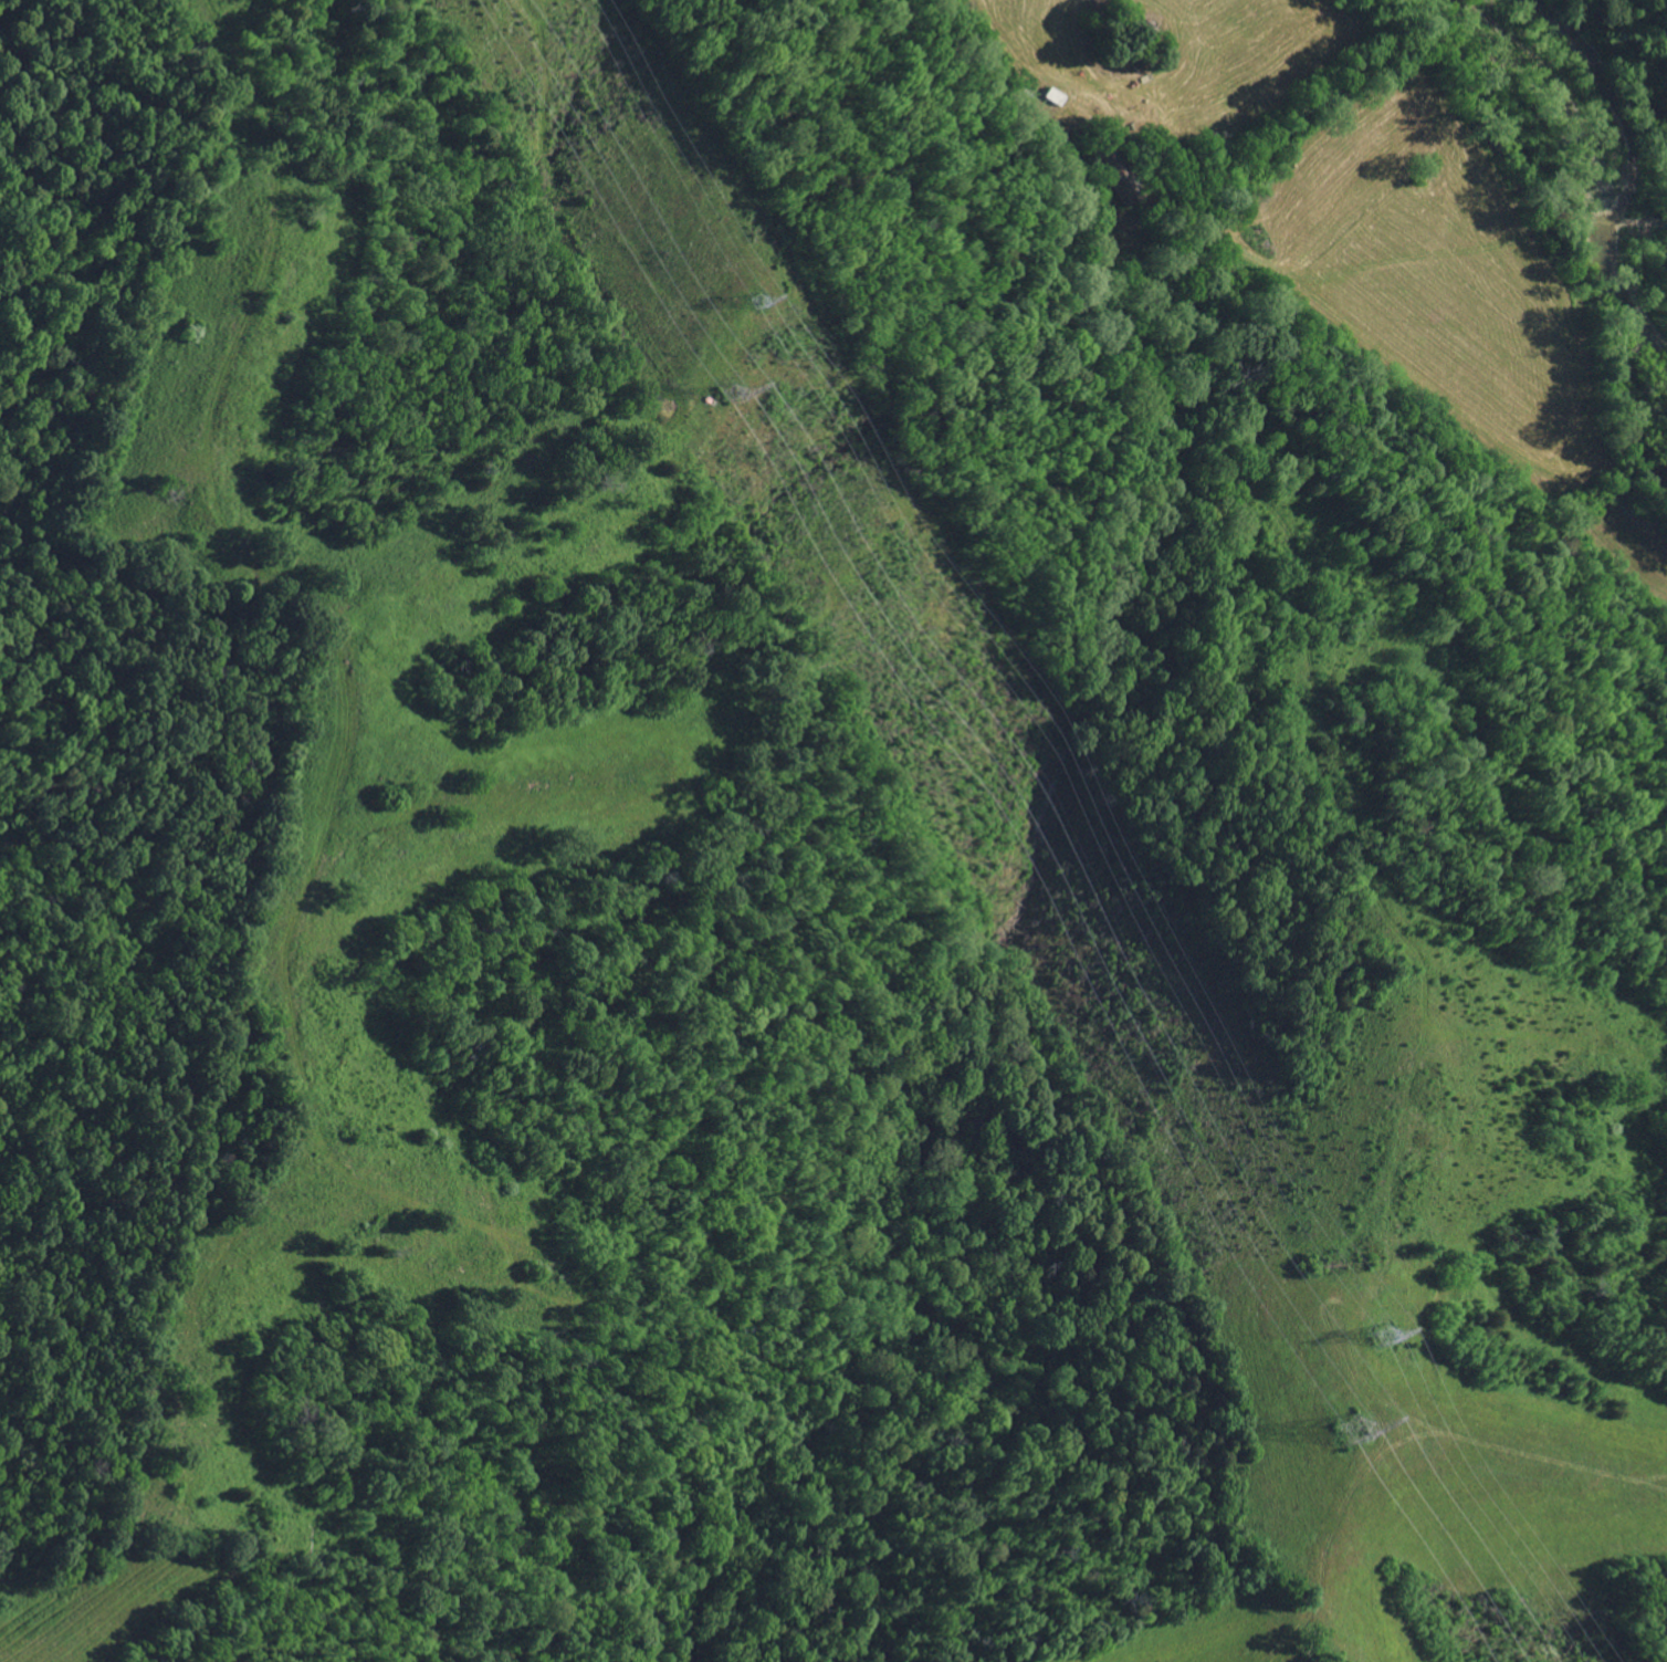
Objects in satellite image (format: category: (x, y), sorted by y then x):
road: (1615, 43)

